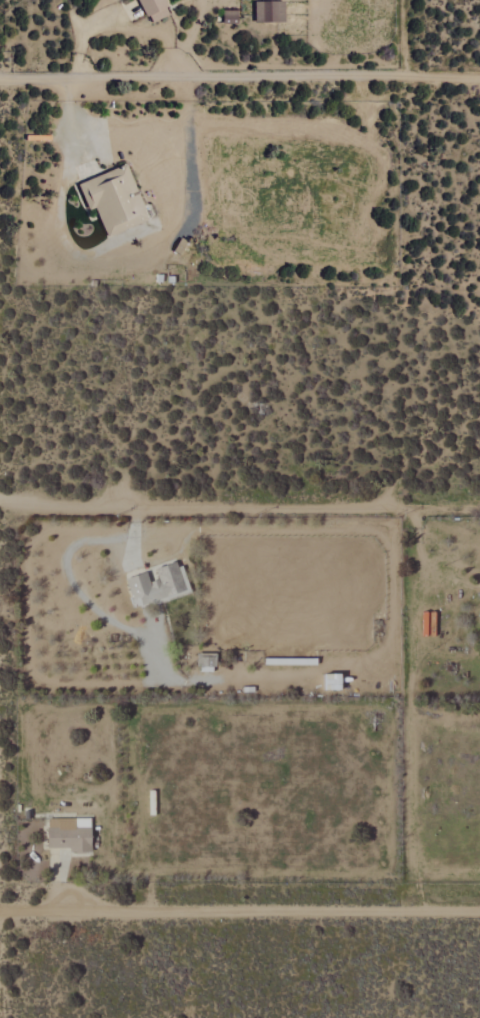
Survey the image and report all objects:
building: (271, 12)
building: (230, 17)
road: (120, 24)
road: (191, 28)
road: (240, 79)
building: (115, 200)
road: (120, 263)
road: (239, 510)
road: (435, 552)
building: (158, 586)
building: (479, 624)
building: (207, 662)
building: (70, 835)
road: (240, 911)

